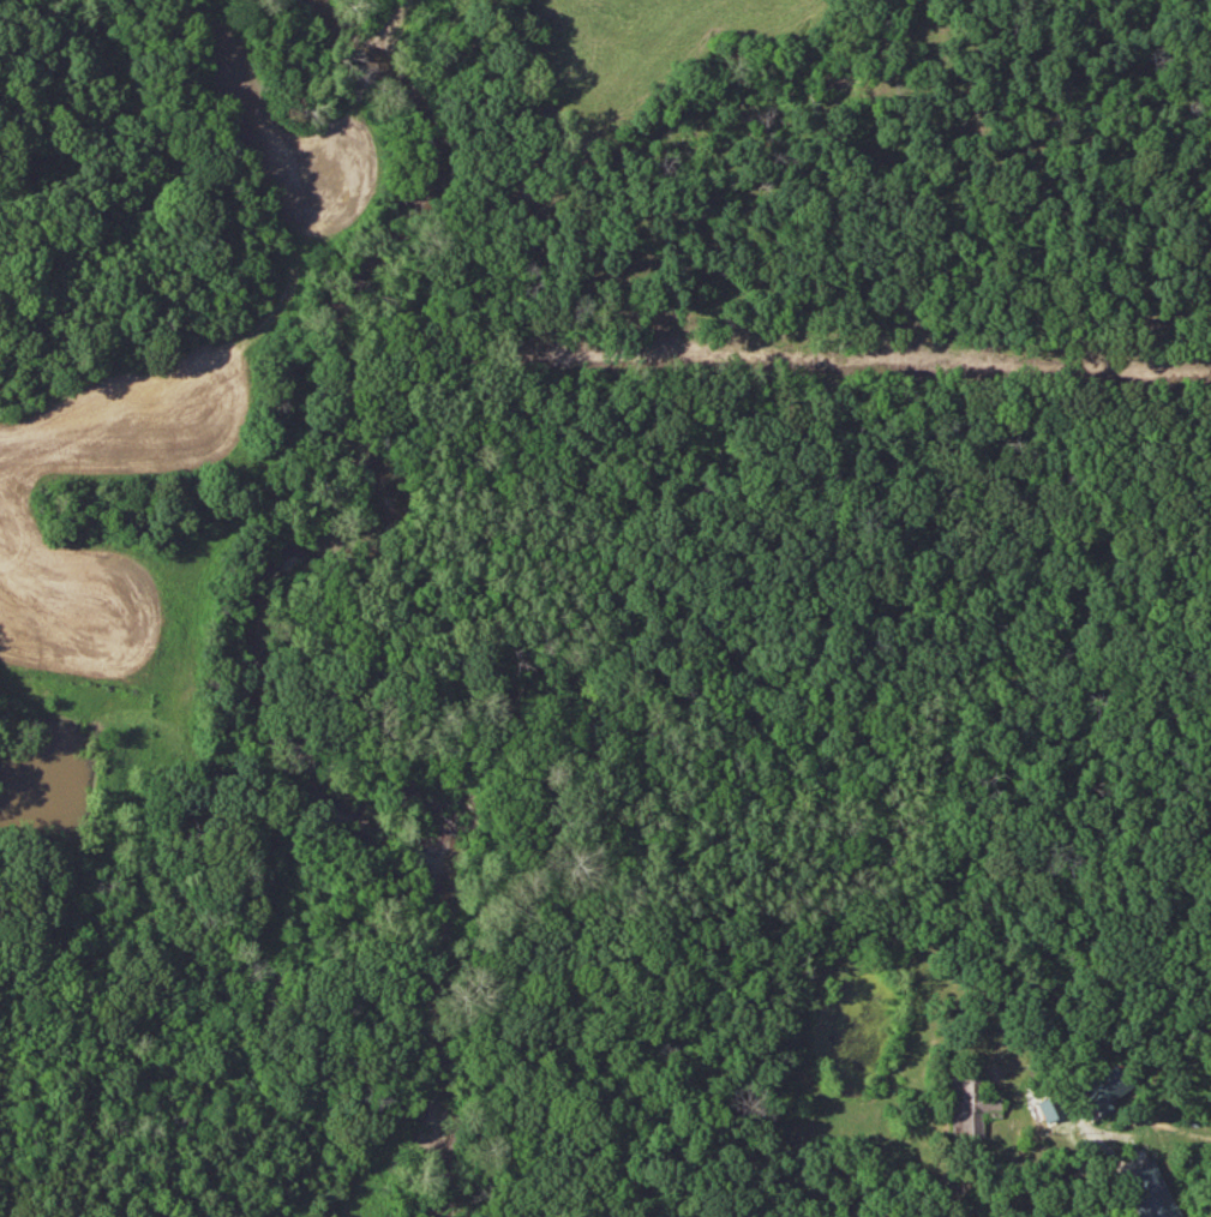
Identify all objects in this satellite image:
building: (970, 1107)
building: (1149, 1192)

